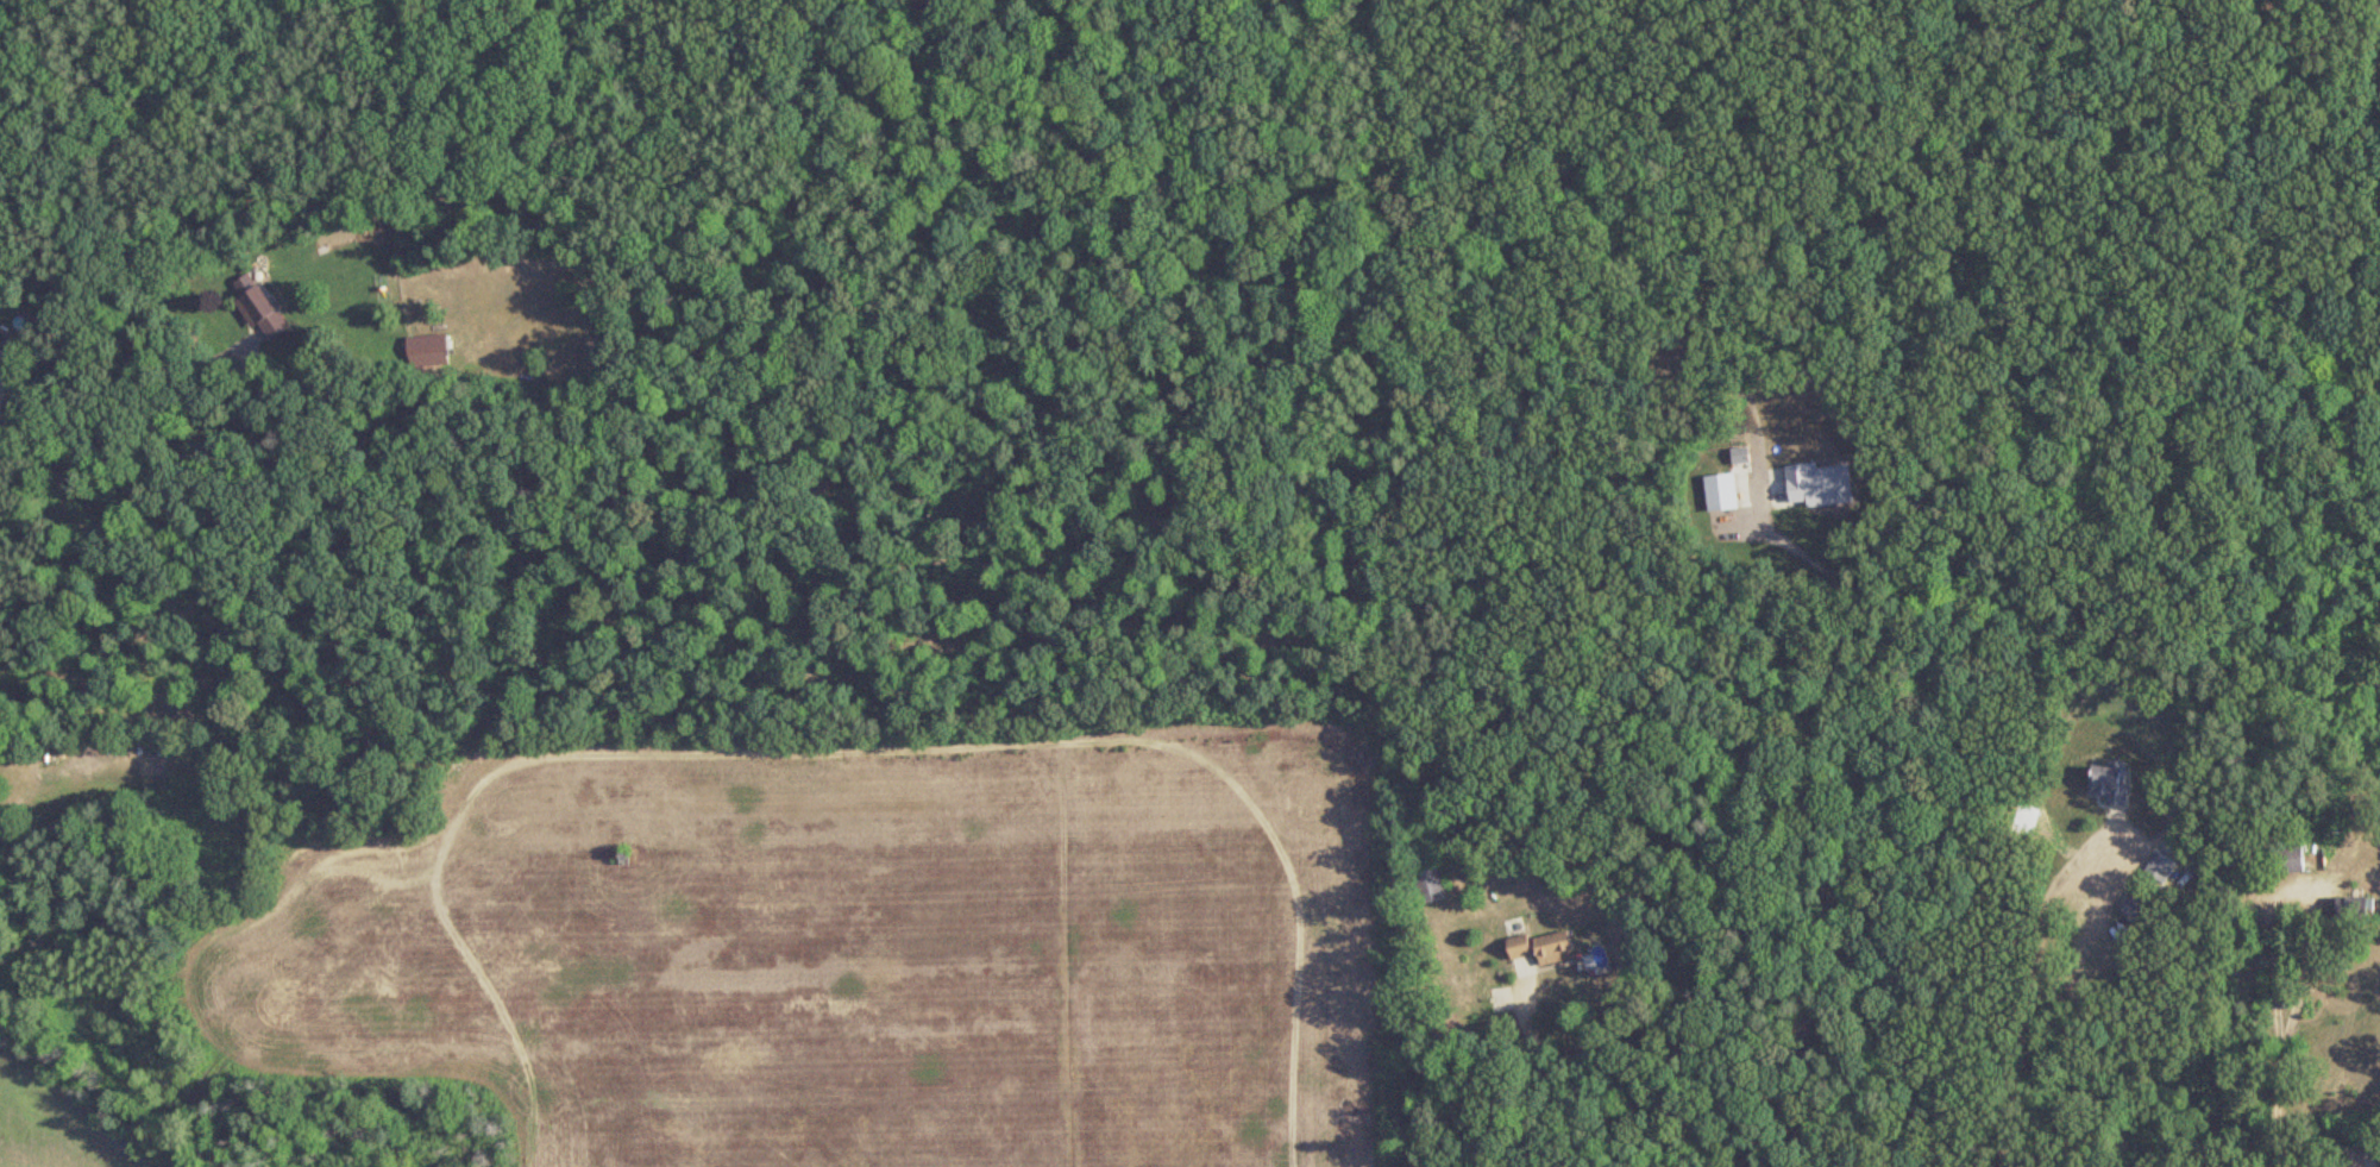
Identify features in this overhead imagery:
building: (258, 307)
building: (17, 346)
building: (428, 349)
road: (115, 399)
road: (291, 443)
building: (2109, 784)
road: (1828, 814)
building: (2285, 859)
building: (2160, 867)
road: (2292, 880)
building: (1428, 884)
building: (2354, 910)
building: (1538, 952)
road: (2030, 981)
road: (1560, 1079)
road: (2280, 1103)
road: (2317, 1152)
building: (2379, 1160)

